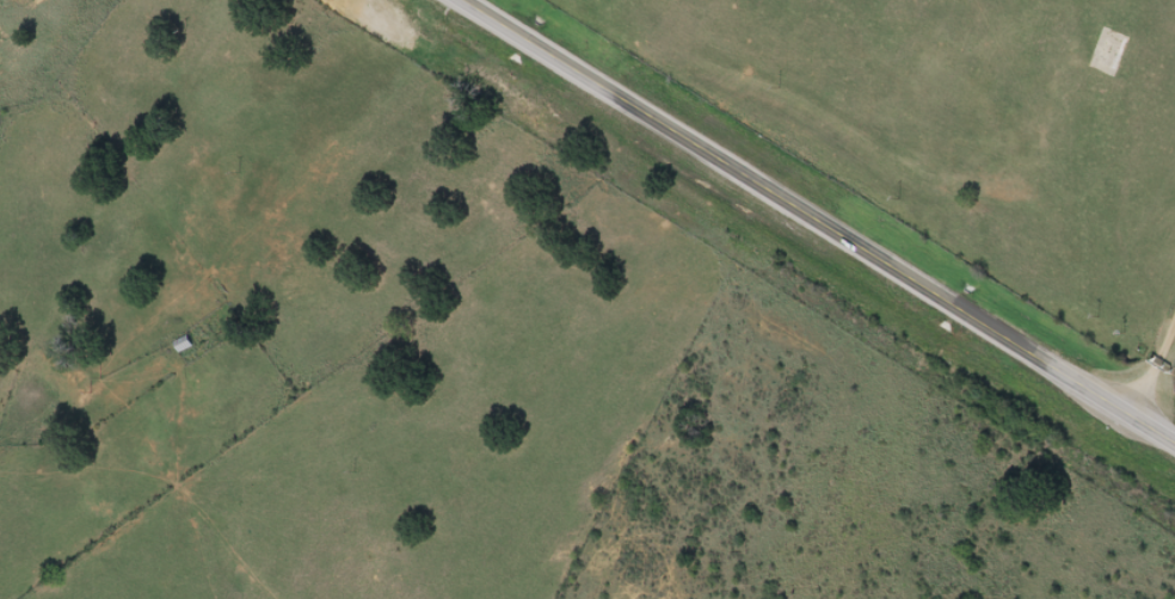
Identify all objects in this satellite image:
road: (816, 221)
building: (185, 345)
road: (1151, 365)

